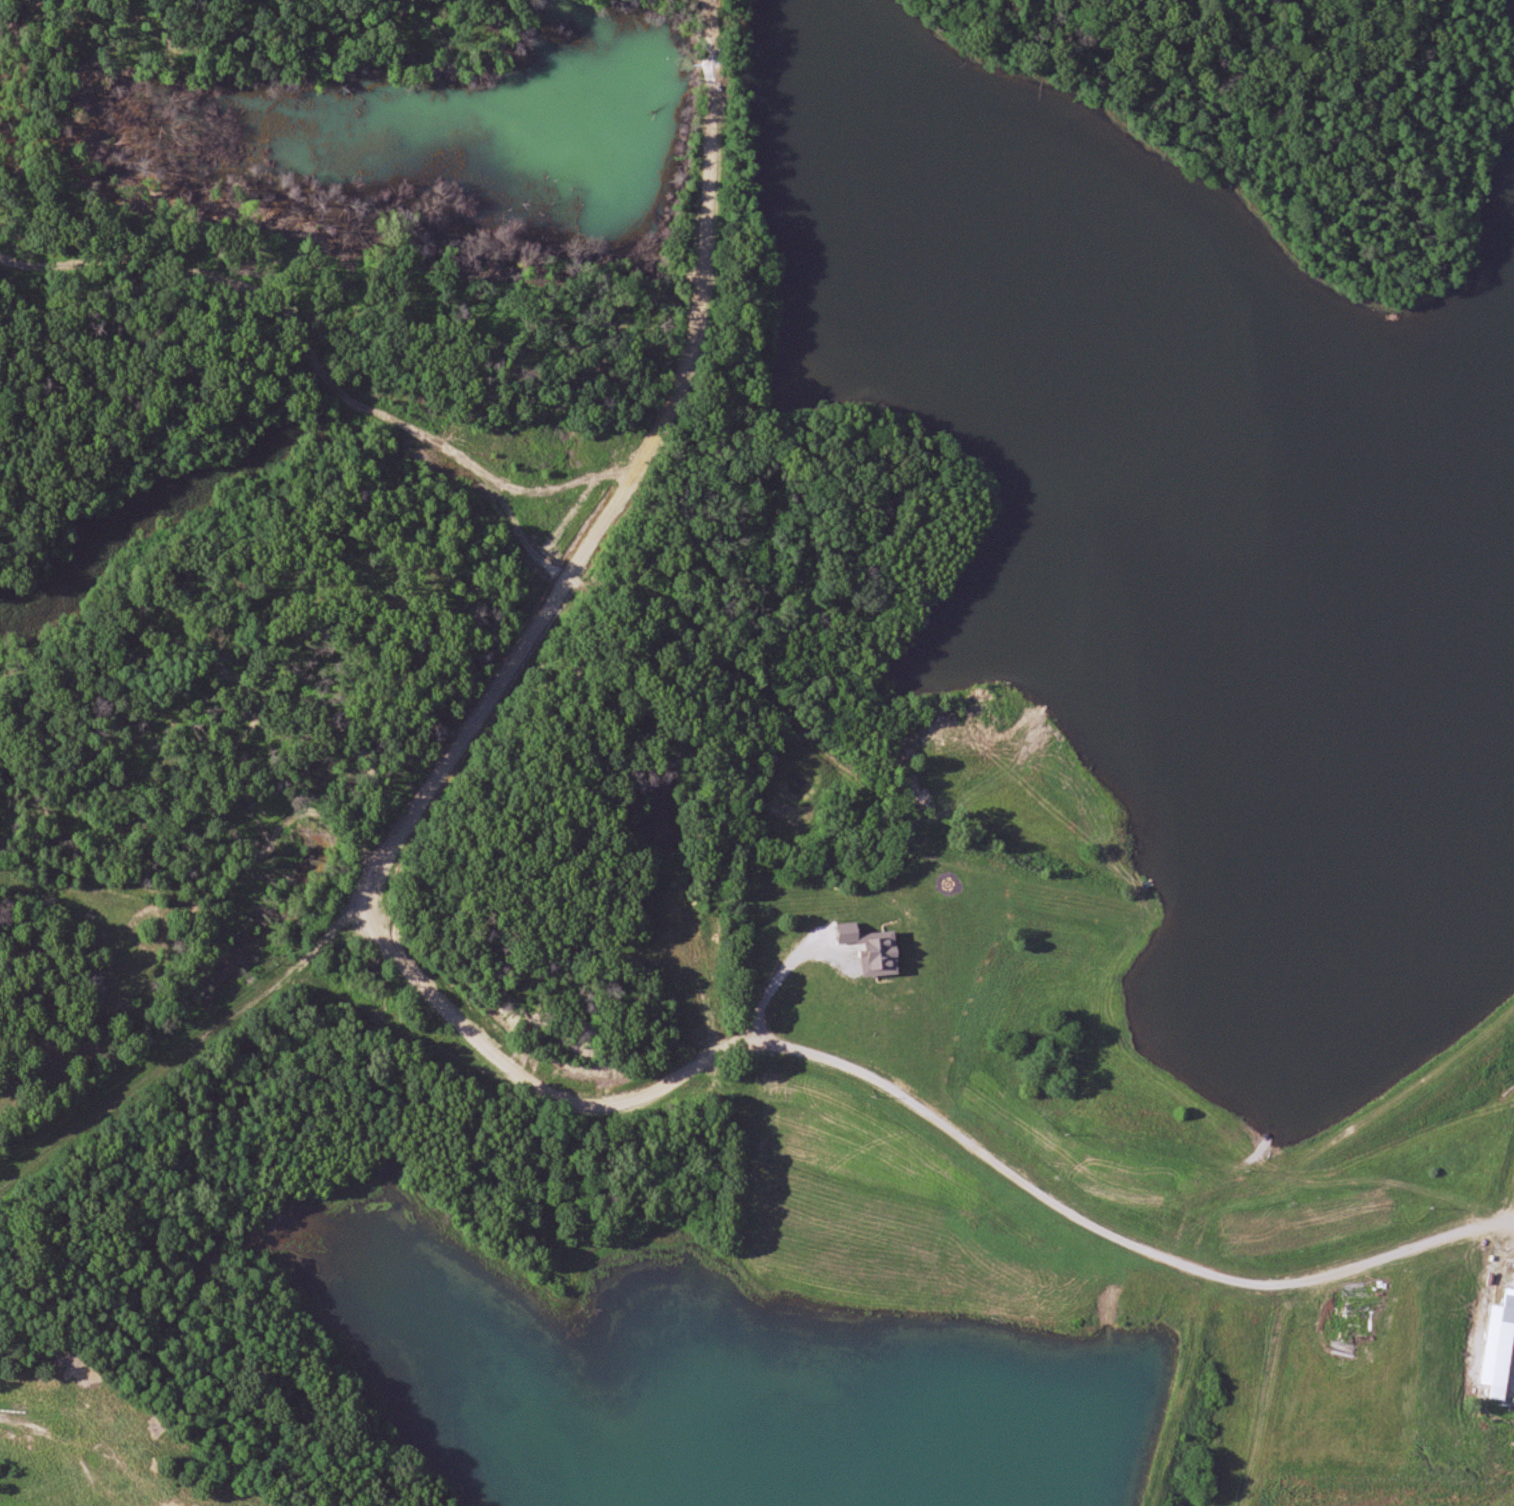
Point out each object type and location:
road: (498, 687)
road: (903, 1092)
building: (1500, 1349)

